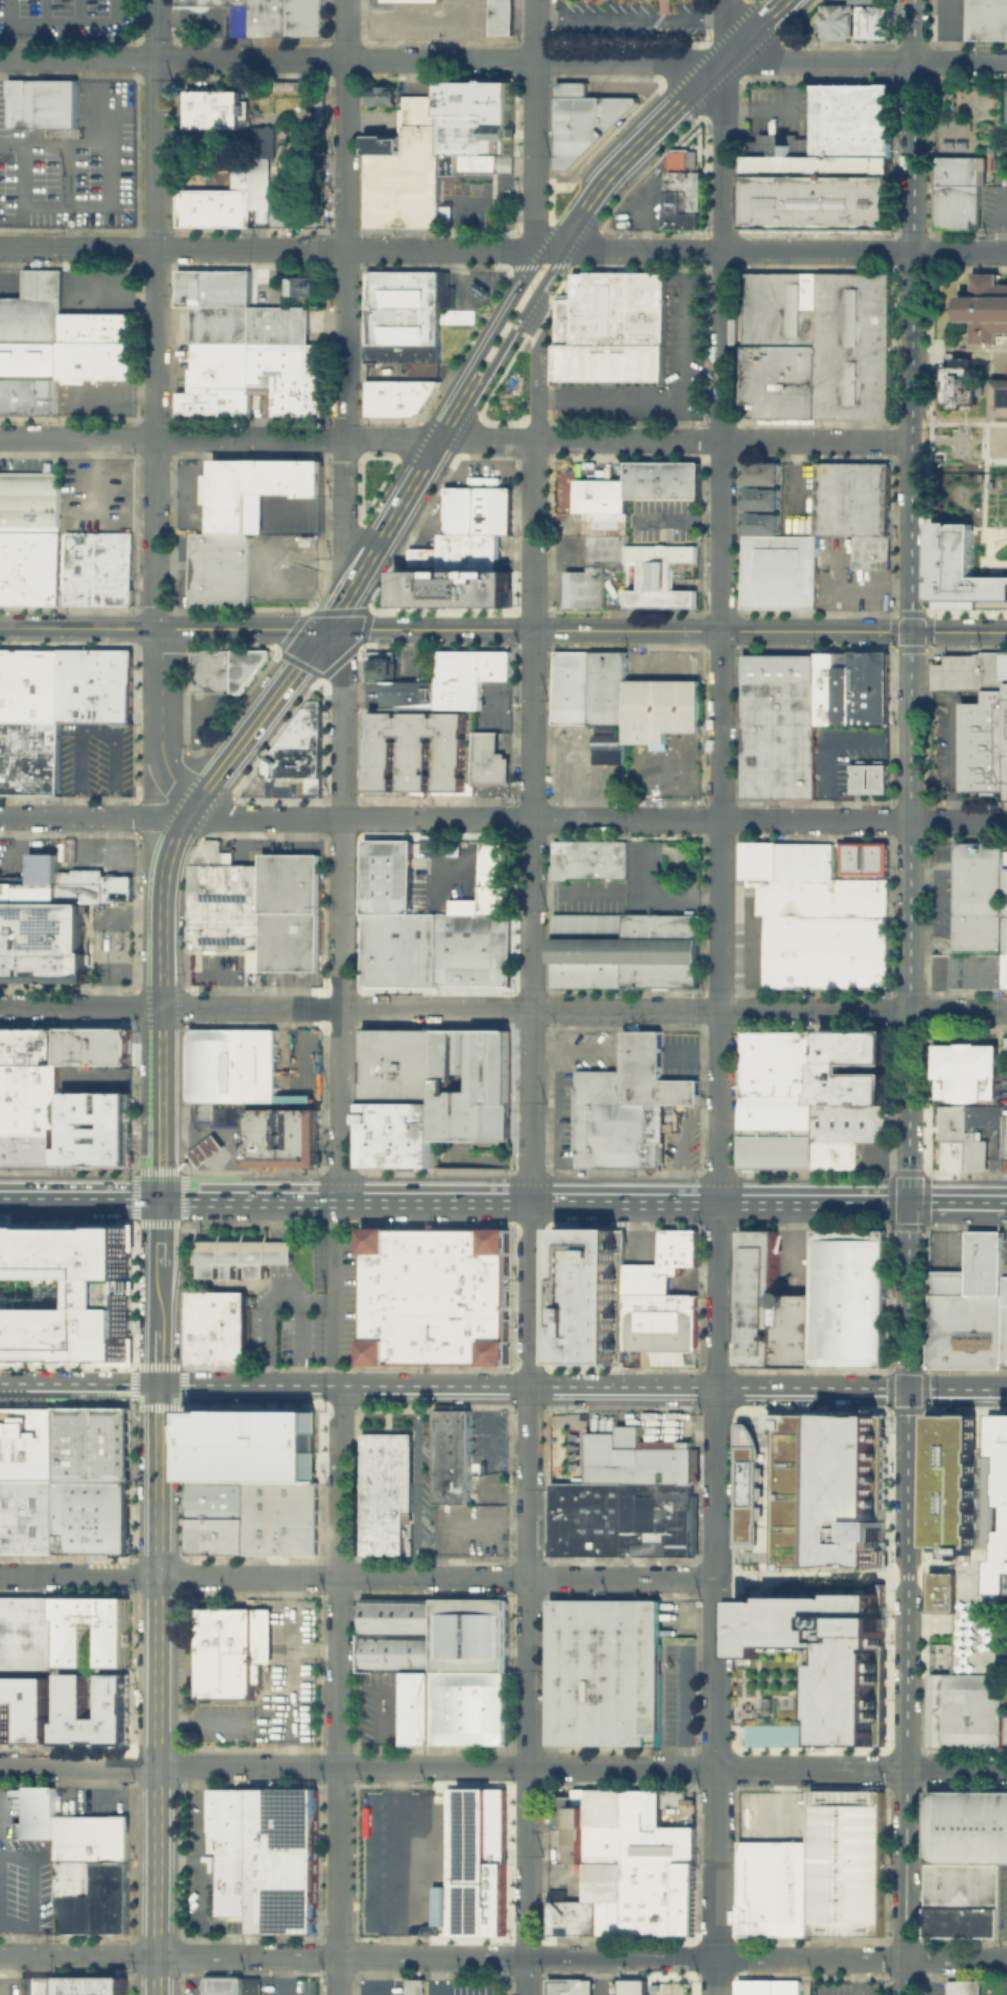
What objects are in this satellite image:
building: (422, 0)
building: (867, 1)
road: (53, 12)
road: (81, 13)
road: (412, 14)
parking lot: (66, 16)
road: (630, 16)
building: (500, 17)
road: (207, 18)
building: (287, 18)
building: (986, 18)
parking lot: (426, 19)
parking lot: (203, 21)
building: (838, 21)
building: (874, 21)
building: (240, 22)
road: (66, 25)
road: (724, 30)
road: (755, 30)
road: (22, 41)
road: (503, 60)
building: (293, 86)
building: (382, 94)
building: (42, 102)
road: (777, 105)
building: (319, 107)
building: (215, 108)
building: (584, 120)
road: (534, 124)
building: (476, 126)
road: (105, 129)
building: (262, 142)
road: (10, 143)
building: (384, 143)
road: (632, 148)
building: (686, 153)
parking lot: (71, 162)
building: (408, 171)
road: (63, 174)
building: (251, 179)
building: (963, 190)
building: (816, 191)
road: (645, 198)
building: (683, 200)
parking lot: (642, 203)
road: (104, 204)
building: (213, 208)
building: (261, 216)
building: (295, 216)
road: (346, 218)
road: (1006, 223)
road: (503, 247)
road: (532, 247)
road: (11, 282)
building: (303, 285)
parking lot: (97, 291)
road: (91, 296)
building: (987, 307)
building: (33, 309)
building: (613, 309)
road: (500, 312)
road: (155, 314)
building: (410, 314)
road: (518, 322)
road: (684, 344)
building: (818, 344)
building: (97, 346)
building: (247, 351)
building: (30, 361)
building: (611, 362)
road: (536, 365)
building: (961, 383)
road: (92, 396)
building: (29, 397)
building: (1000, 397)
building: (398, 398)
road: (610, 399)
road: (455, 439)
road: (959, 441)
road: (477, 454)
parking lot: (24, 464)
road: (484, 470)
road: (93, 472)
building: (763, 472)
parking lot: (482, 473)
road: (413, 484)
road: (797, 485)
building: (640, 486)
building: (257, 492)
parking lot: (95, 494)
building: (762, 499)
parking lot: (802, 499)
building: (29, 501)
road: (346, 509)
building: (859, 509)
building: (479, 512)
parking lot: (292, 514)
parking lot: (665, 520)
road: (679, 520)
building: (762, 523)
building: (607, 524)
building: (309, 541)
building: (469, 553)
building: (425, 558)
parking lot: (284, 567)
building: (30, 568)
building: (99, 568)
building: (961, 569)
building: (222, 570)
building: (598, 571)
building: (781, 572)
building: (661, 576)
parking lot: (849, 579)
road: (637, 585)
road: (657, 585)
road: (697, 585)
building: (452, 590)
road: (873, 590)
road: (836, 592)
road: (341, 603)
road: (78, 627)
road: (240, 628)
traffic signals: (325, 629)
road: (429, 629)
road: (722, 631)
traffic signals: (911, 632)
road: (959, 632)
building: (381, 663)
building: (222, 669)
building: (970, 673)
building: (468, 675)
building: (29, 683)
building: (96, 684)
building: (851, 687)
building: (592, 688)
building: (410, 693)
road: (911, 693)
building: (663, 709)
parking lot: (206, 714)
road: (343, 721)
road: (254, 723)
building: (778, 725)
road: (158, 727)
road: (93, 731)
building: (608, 744)
building: (984, 744)
building: (416, 749)
building: (297, 751)
building: (29, 757)
parking lot: (95, 757)
building: (488, 759)
building: (468, 774)
building: (872, 777)
parking lot: (269, 790)
road: (503, 819)
road: (238, 838)
parking lot: (292, 846)
road: (468, 846)
parking lot: (243, 850)
parking lot: (94, 854)
building: (867, 857)
road: (166, 858)
building: (591, 859)
building: (786, 862)
building: (492, 863)
building: (387, 875)
building: (32, 882)
building: (223, 882)
building: (291, 883)
building: (80, 885)
building: (115, 888)
building: (493, 898)
building: (822, 899)
building: (978, 899)
road: (934, 900)
building: (1004, 932)
building: (228, 934)
road: (105, 935)
building: (276, 942)
building: (44, 943)
building: (306, 943)
building: (470, 944)
building: (398, 948)
building: (627, 952)
building: (825, 954)
parking lot: (220, 966)
road: (134, 974)
parking lot: (291, 978)
road: (342, 1006)
road: (503, 1008)
road: (719, 1028)
building: (16, 1044)
road: (304, 1044)
building: (44, 1045)
building: (93, 1045)
building: (854, 1046)
road: (162, 1048)
building: (776, 1063)
building: (399, 1064)
building: (234, 1066)
building: (967, 1069)
building: (650, 1072)
parking lot: (93, 1076)
building: (28, 1080)
road: (117, 1082)
building: (850, 1086)
road: (556, 1092)
building: (96, 1108)
building: (220, 1113)
building: (28, 1115)
building: (598, 1118)
road: (226, 1132)
building: (775, 1132)
building: (844, 1132)
building: (399, 1133)
building: (641, 1134)
building: (972, 1134)
building: (266, 1136)
building: (303, 1136)
building: (1004, 1136)
building: (953, 1137)
road: (680, 1142)
building: (87, 1145)
road: (215, 1145)
building: (63, 1146)
building: (117, 1146)
parking lot: (238, 1147)
building: (12, 1148)
building: (33, 1149)
building: (49, 1149)
road: (205, 1149)
building: (205, 1150)
gas station: (205, 1150)
road: (197, 1155)
road: (551, 1182)
road: (79, 1194)
traffic signals: (159, 1195)
road: (438, 1195)
road: (813, 1197)
traffic signals: (908, 1200)
road: (954, 1202)
road: (1004, 1202)
road: (277, 1217)
road: (531, 1217)
road: (284, 1228)
road: (271, 1229)
building: (684, 1247)
building: (666, 1251)
road: (278, 1252)
road: (286, 1252)
road: (271, 1253)
building: (239, 1255)
road: (540, 1276)
road: (284, 1277)
road: (272, 1278)
building: (642, 1278)
road: (279, 1283)
road: (221, 1285)
road: (335, 1289)
building: (64, 1294)
building: (433, 1295)
building: (586, 1296)
building: (846, 1299)
road: (289, 1302)
building: (970, 1308)
building: (767, 1310)
parking lot: (312, 1311)
building: (659, 1321)
road: (299, 1324)
building: (215, 1327)
road: (266, 1338)
road: (503, 1384)
road: (44, 1385)
road: (123, 1385)
traffic signals: (158, 1385)
road: (878, 1386)
traffic signals: (908, 1387)
road: (957, 1387)
road: (733, 1399)
road: (487, 1425)
parking lot: (487, 1439)
building: (251, 1444)
building: (29, 1445)
building: (95, 1446)
road: (508, 1447)
building: (450, 1454)
building: (634, 1459)
building: (950, 1479)
road: (158, 1480)
road: (415, 1480)
parking lot: (486, 1486)
building: (811, 1490)
building: (385, 1491)
road: (504, 1493)
road: (766, 1499)
building: (991, 1499)
building: (113, 1500)
building: (1003, 1508)
building: (215, 1516)
building: (280, 1516)
building: (29, 1518)
building: (77, 1519)
building: (586, 1519)
building: (657, 1519)
road: (492, 1522)
building: (113, 1536)
building: (408, 1546)
road: (766, 1574)
road: (357, 1577)
road: (726, 1577)
road: (831, 1577)
building: (940, 1591)
building: (976, 1610)
parking garage: (976, 1610)
building: (397, 1615)
parking lot: (678, 1617)
building: (28, 1634)
building: (469, 1634)
building: (116, 1646)
road: (289, 1650)
road: (314, 1650)
building: (232, 1651)
building: (396, 1652)
building: (812, 1664)
road: (78, 1671)
building: (604, 1671)
parking lot: (286, 1675)
road: (339, 1688)
road: (905, 1690)
parking lot: (676, 1694)
building: (73, 1697)
parking lot: (381, 1707)
road: (381, 1707)
building: (453, 1707)
building: (27, 1709)
building: (962, 1710)
road: (55, 1720)
road: (205, 1723)
parking lot: (218, 1723)
road: (271, 1723)
building: (1006, 1730)
road: (288, 1745)
road: (78, 1766)
road: (581, 1768)
road: (93, 1795)
building: (673, 1796)
parking lot: (100, 1801)
road: (0, 1803)
building: (640, 1806)
building: (564, 1807)
building: (603, 1807)
building: (668, 1818)
building: (965, 1827)
building: (71, 1829)
building: (593, 1839)
building: (657, 1844)
building: (267, 1858)
road: (156, 1860)
building: (475, 1860)
building: (843, 1863)
parking lot: (26, 1886)
road: (31, 1888)
building: (771, 1888)
building: (90, 1898)
building: (656, 1898)
building: (584, 1900)
building: (960, 1900)
building: (608, 1918)
building: (427, 1929)
road: (17, 1938)
road: (77, 1955)
road: (581, 1957)
road: (155, 1975)
road: (197, 1975)
road: (288, 1975)
road: (380, 1975)
road: (434, 1976)
road: (598, 1976)
parking lot: (10, 1985)
building: (222, 1985)
building: (251, 1985)
building: (38, 1986)
building: (92, 1986)
building: (414, 1986)
building: (569, 1986)
building: (633, 1986)
building: (767, 1987)
parking lot: (845, 1987)
building: (962, 1987)
parking lot: (936, 1988)

